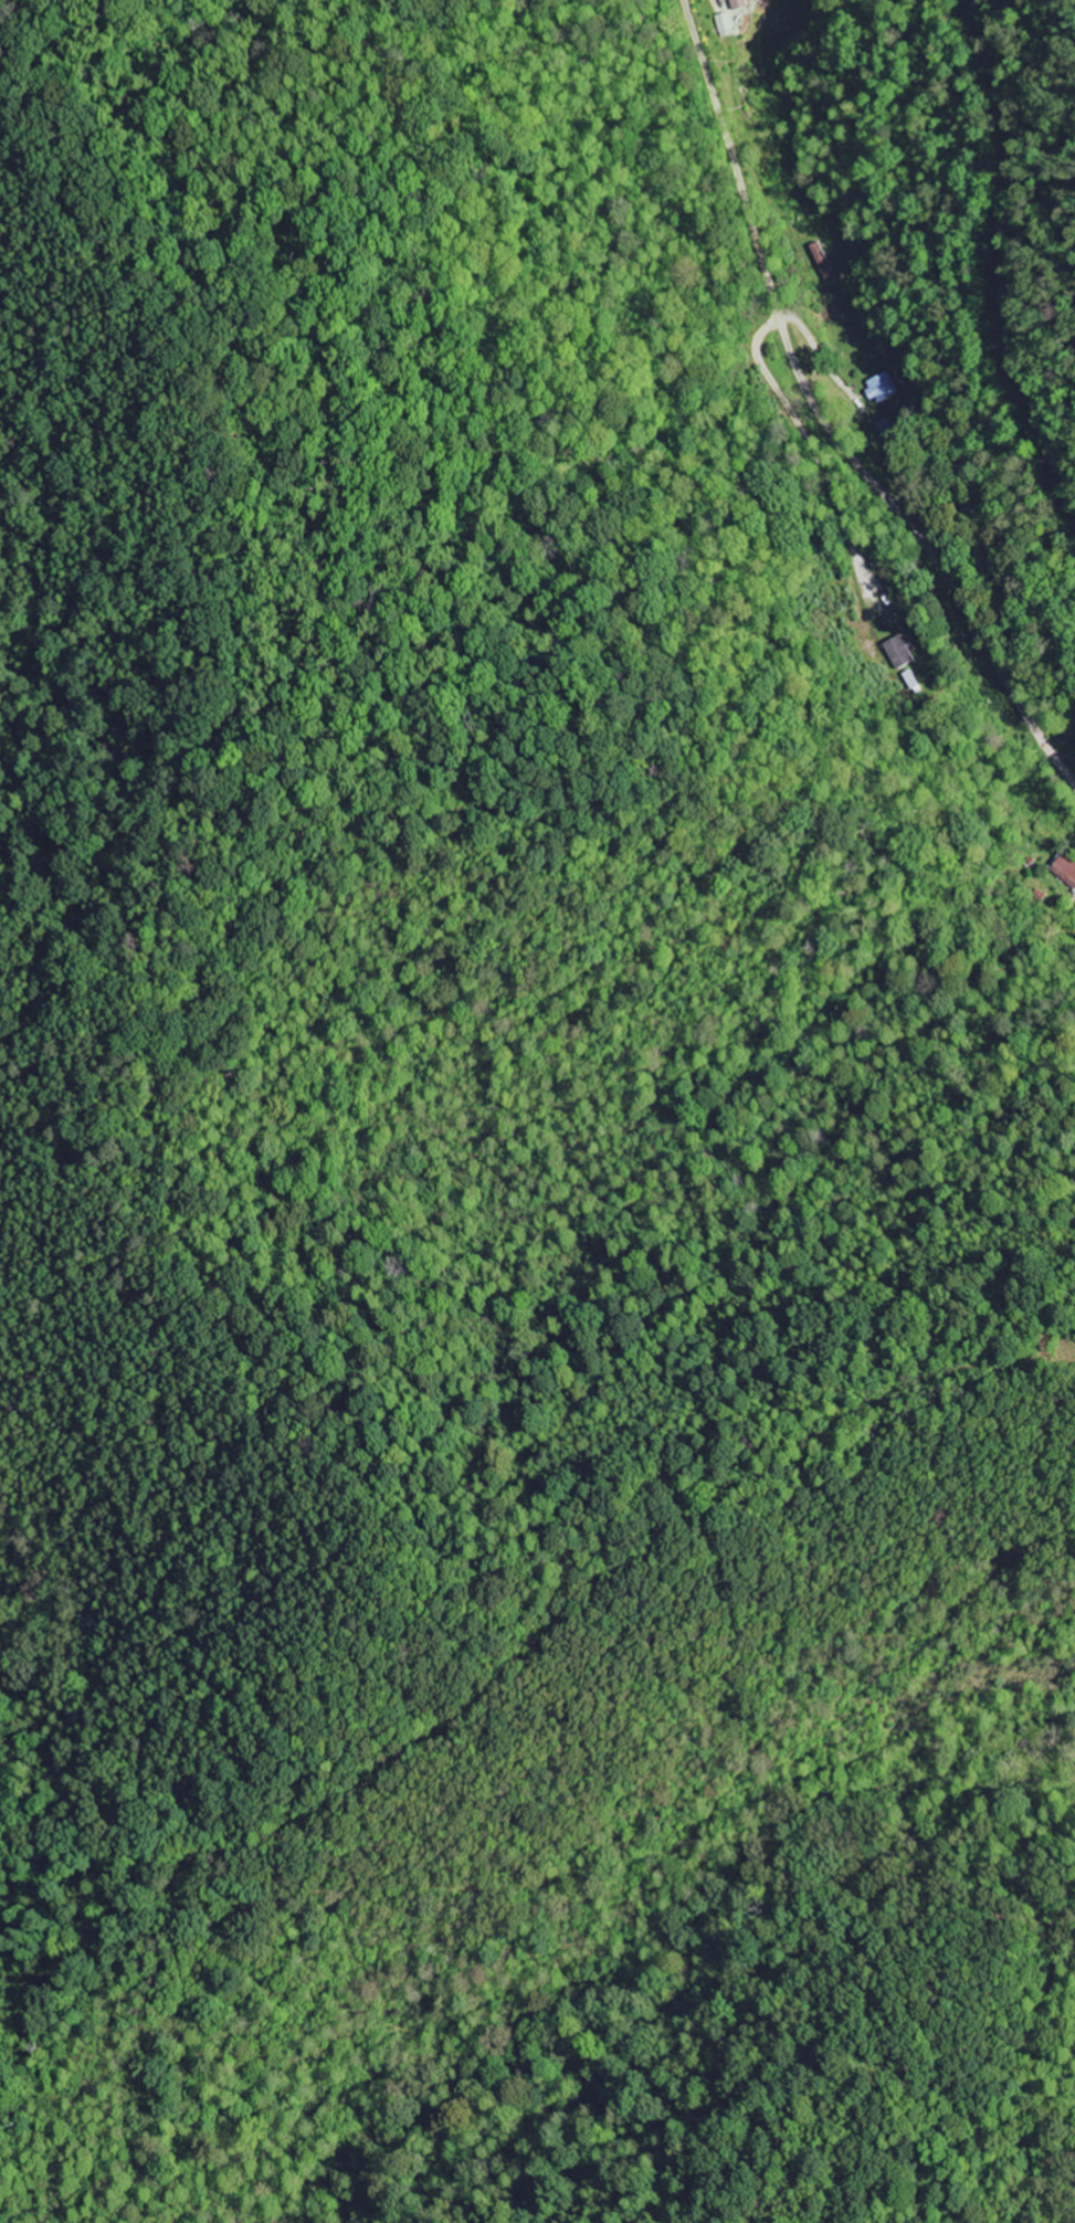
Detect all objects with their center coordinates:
building: (739, 4)
building: (727, 25)
building: (881, 387)
road: (820, 422)
building: (1066, 873)

